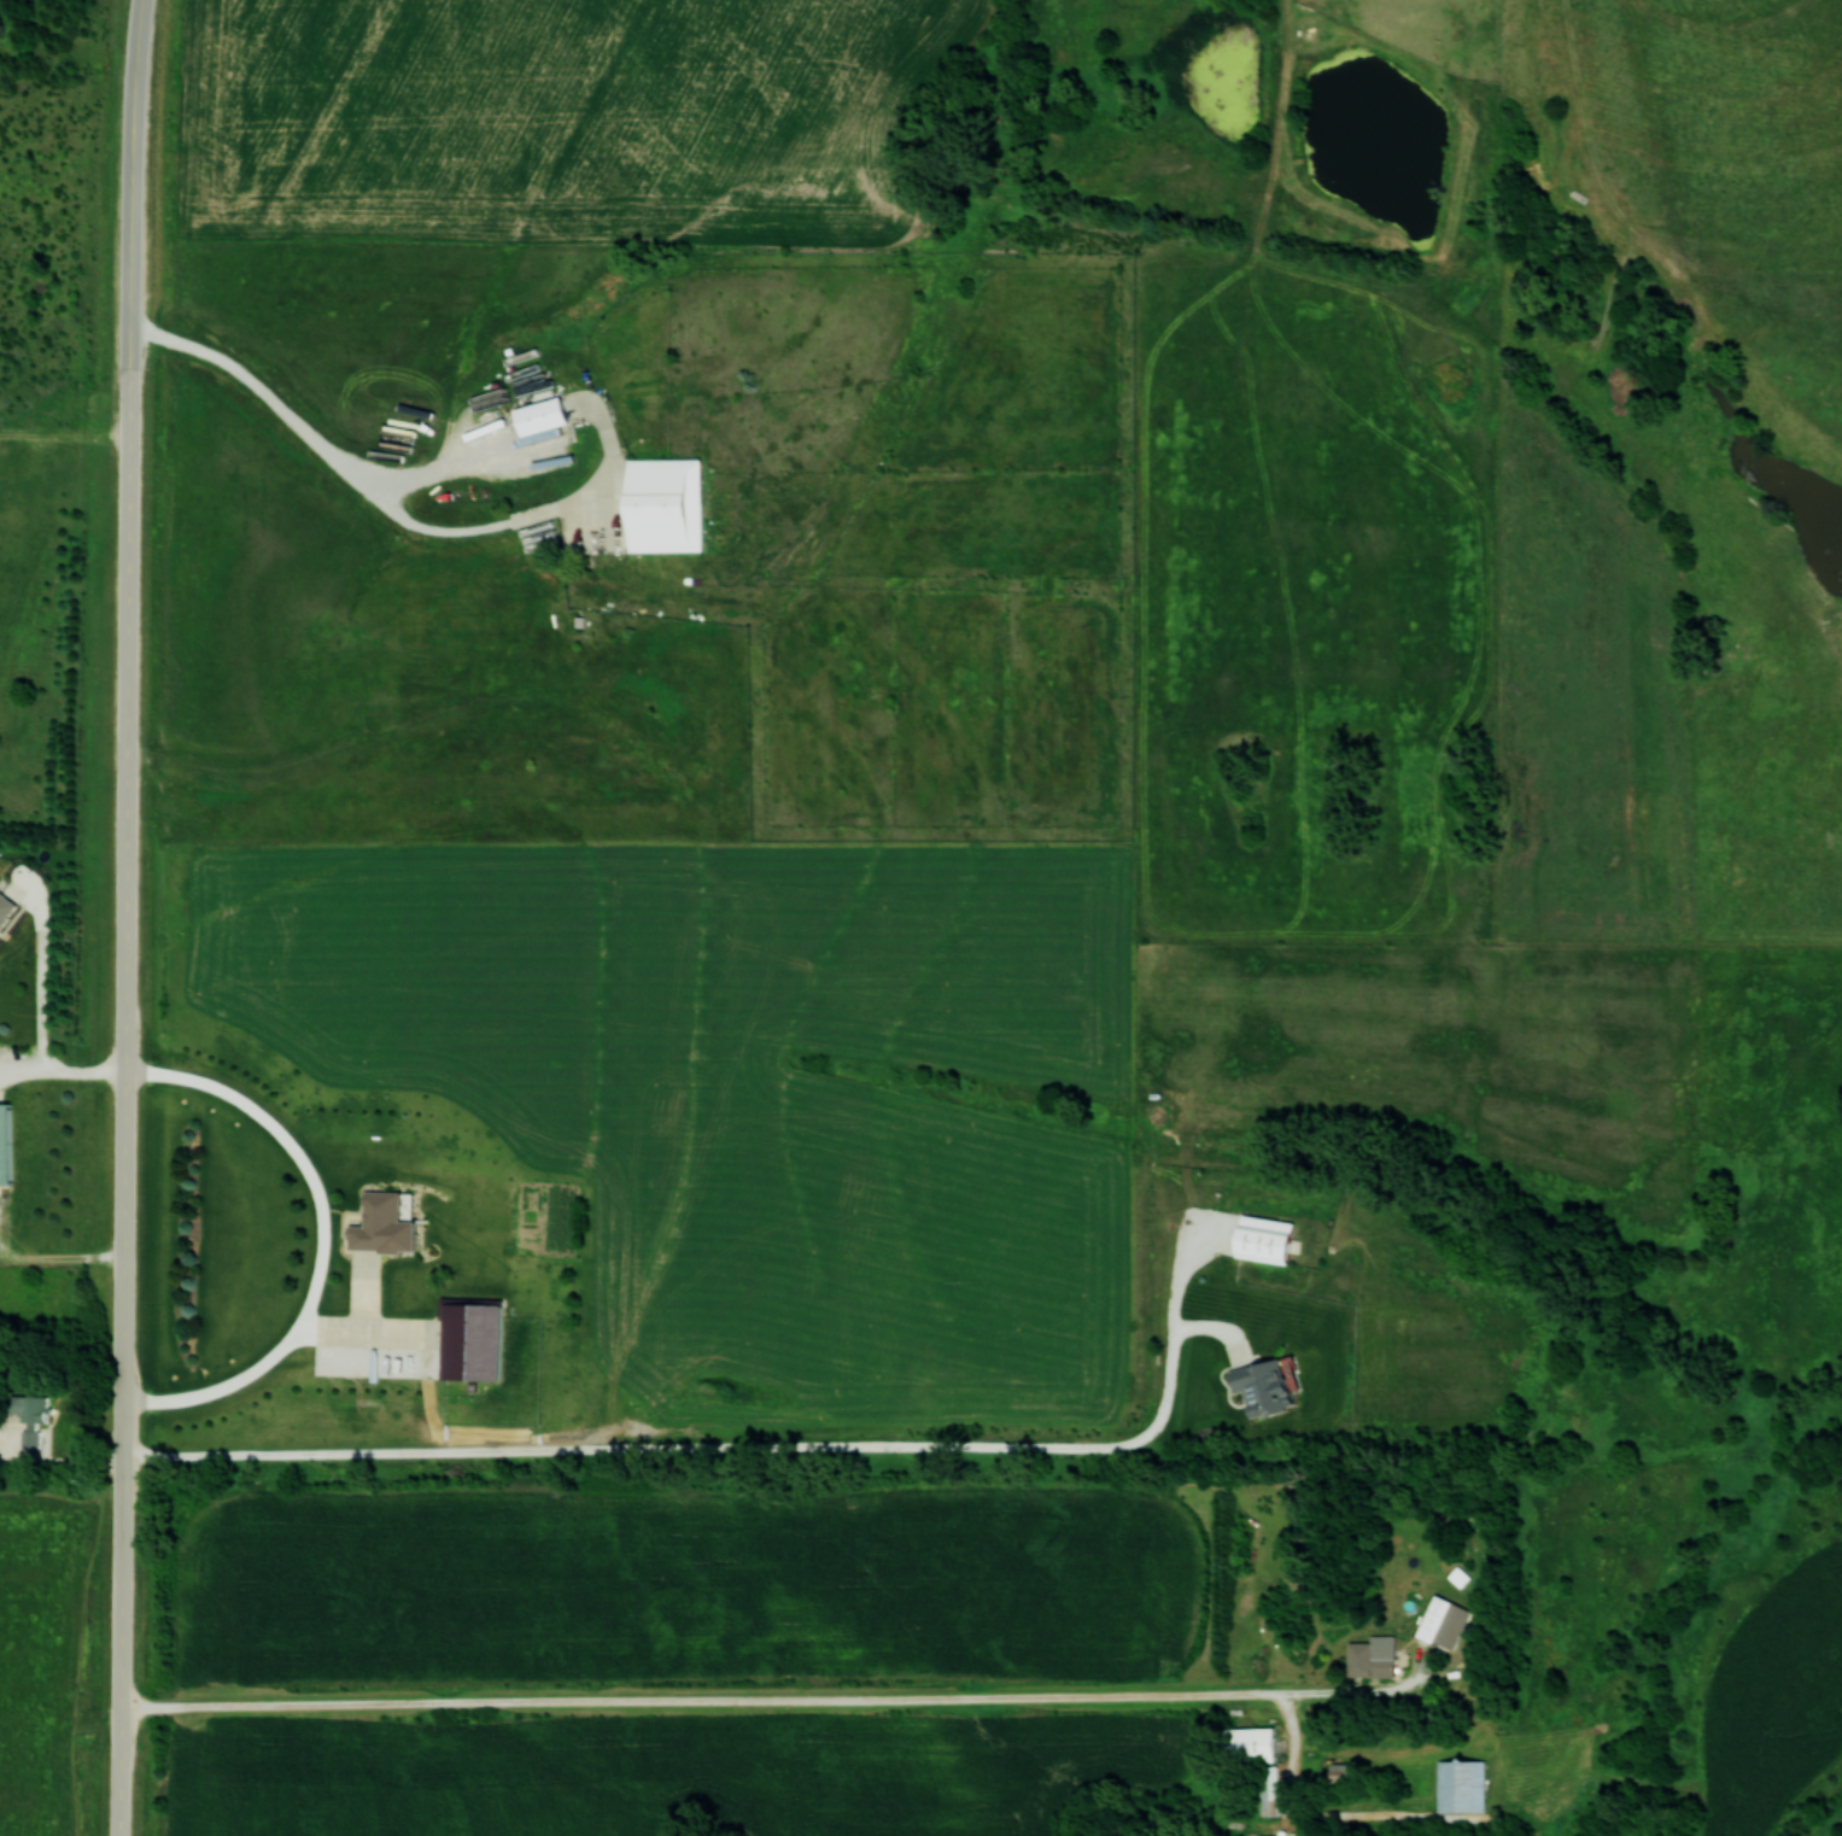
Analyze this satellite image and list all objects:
building: (538, 415)
building: (661, 503)
building: (5, 906)
road: (125, 917)
building: (4, 1144)
building: (380, 1224)
building: (1262, 1239)
building: (469, 1341)
building: (1261, 1387)
building: (25, 1408)
road: (692, 1448)
building: (1431, 1619)
building: (1367, 1662)
road: (748, 1701)
building: (1246, 1746)
building: (1458, 1787)
building: (1267, 1790)

